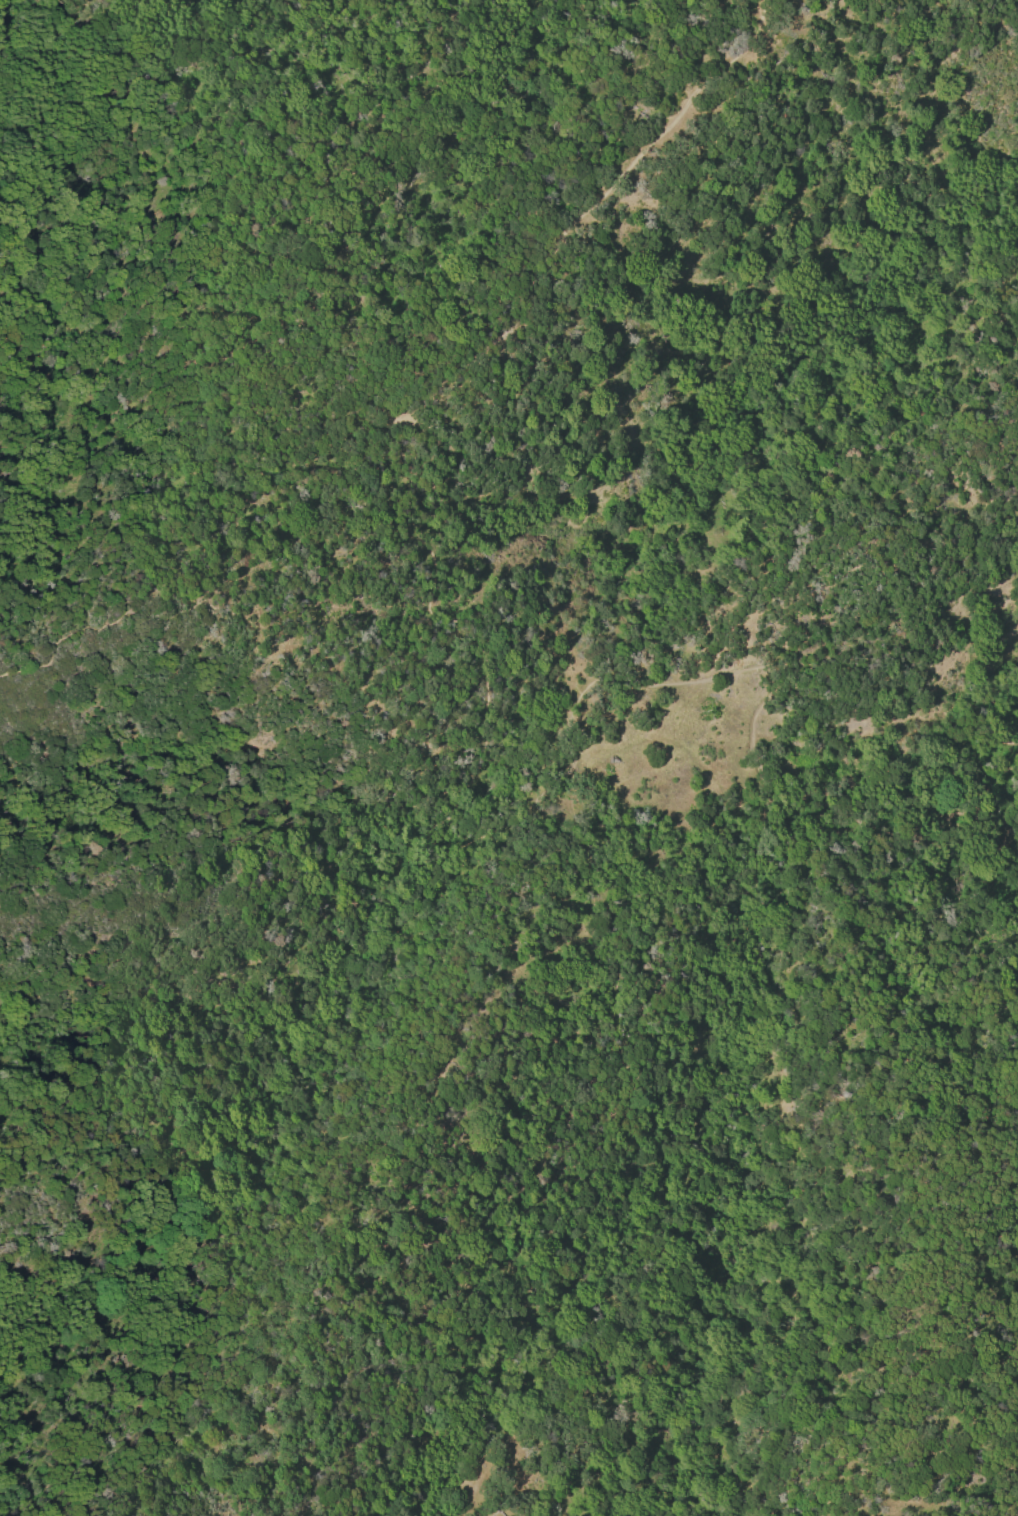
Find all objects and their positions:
road: (232, 568)
road: (990, 780)
road: (446, 810)
road: (1006, 836)
road: (546, 1165)

